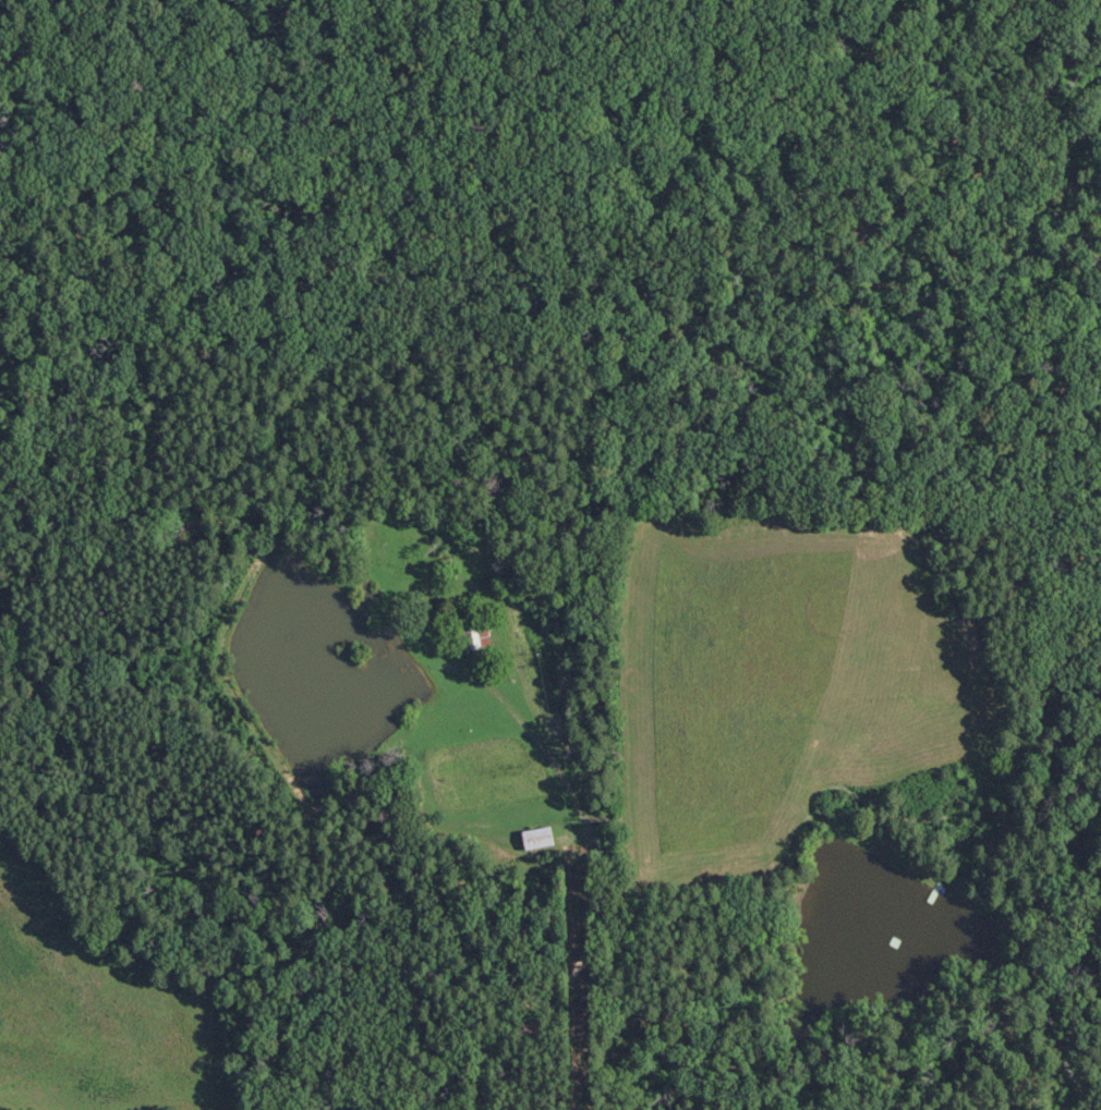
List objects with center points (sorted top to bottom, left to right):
building: (473, 638)
building: (535, 839)
road: (564, 980)

